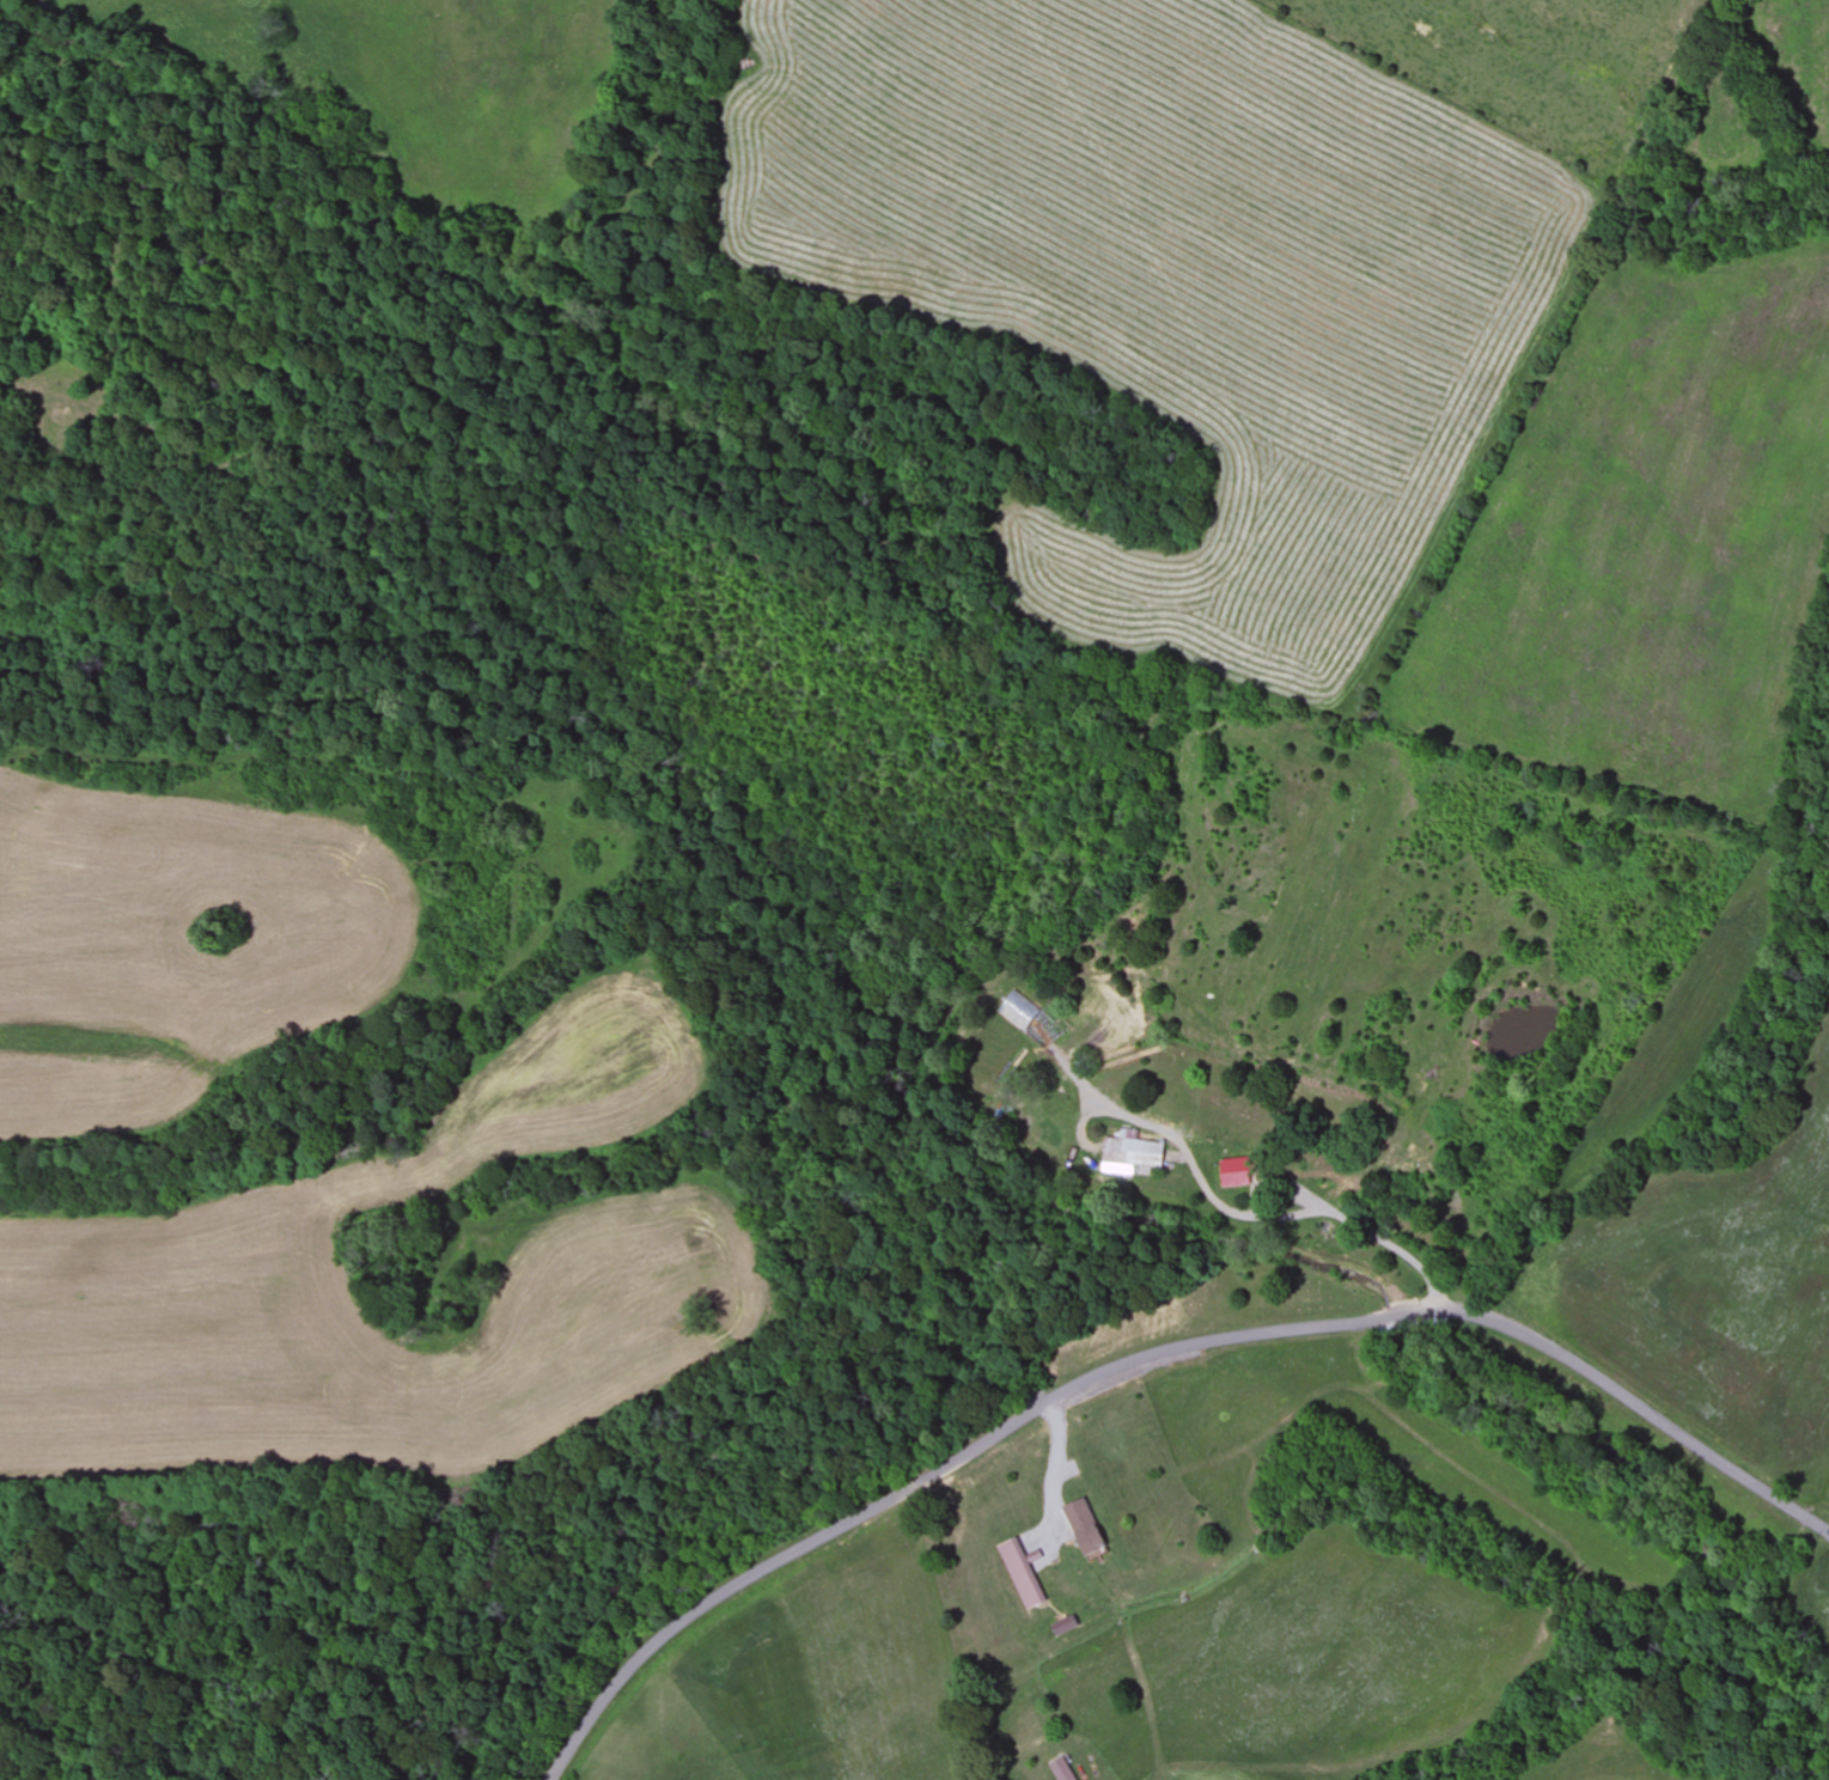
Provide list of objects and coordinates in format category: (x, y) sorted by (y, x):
building: (1133, 1153)
building: (1238, 1172)
road: (1153, 1355)
building: (1087, 1528)
building: (1022, 1575)
building: (1061, 1769)

